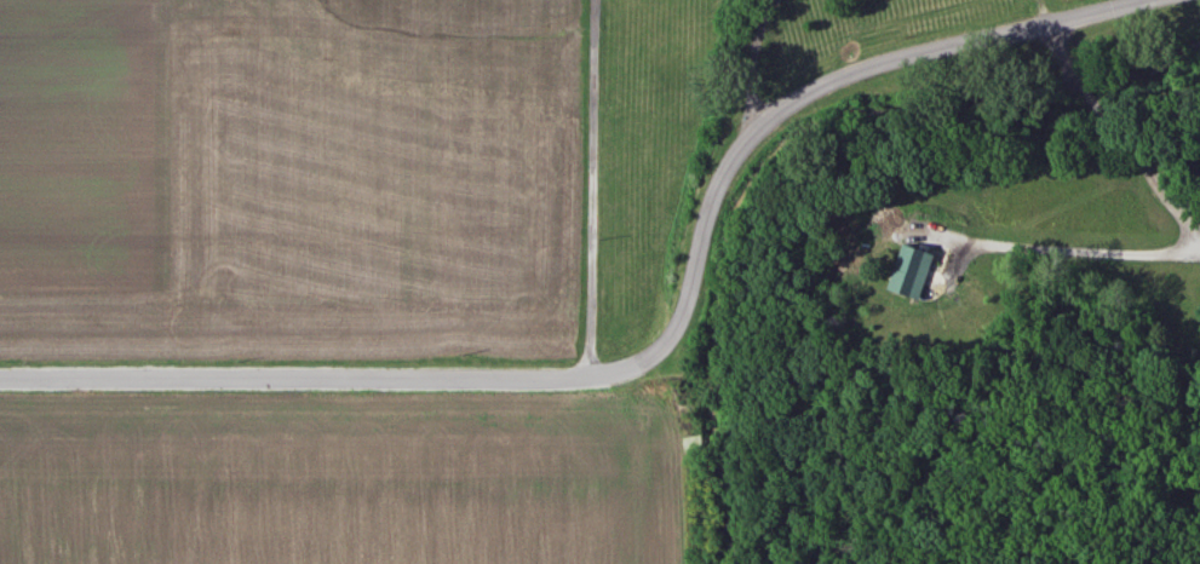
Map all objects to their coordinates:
road: (753, 58)
road: (592, 190)
road: (1184, 219)
building: (908, 270)
road: (670, 357)

